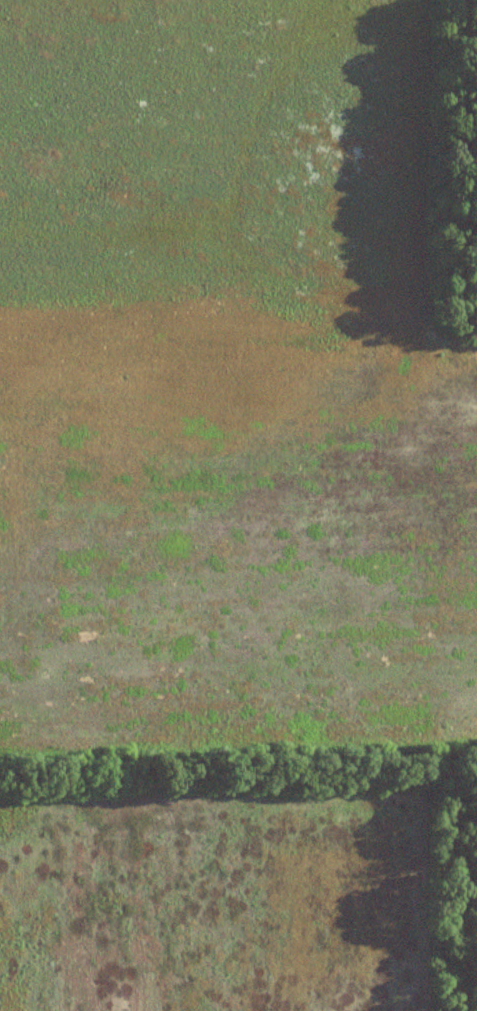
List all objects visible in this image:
road: (221, 491)

